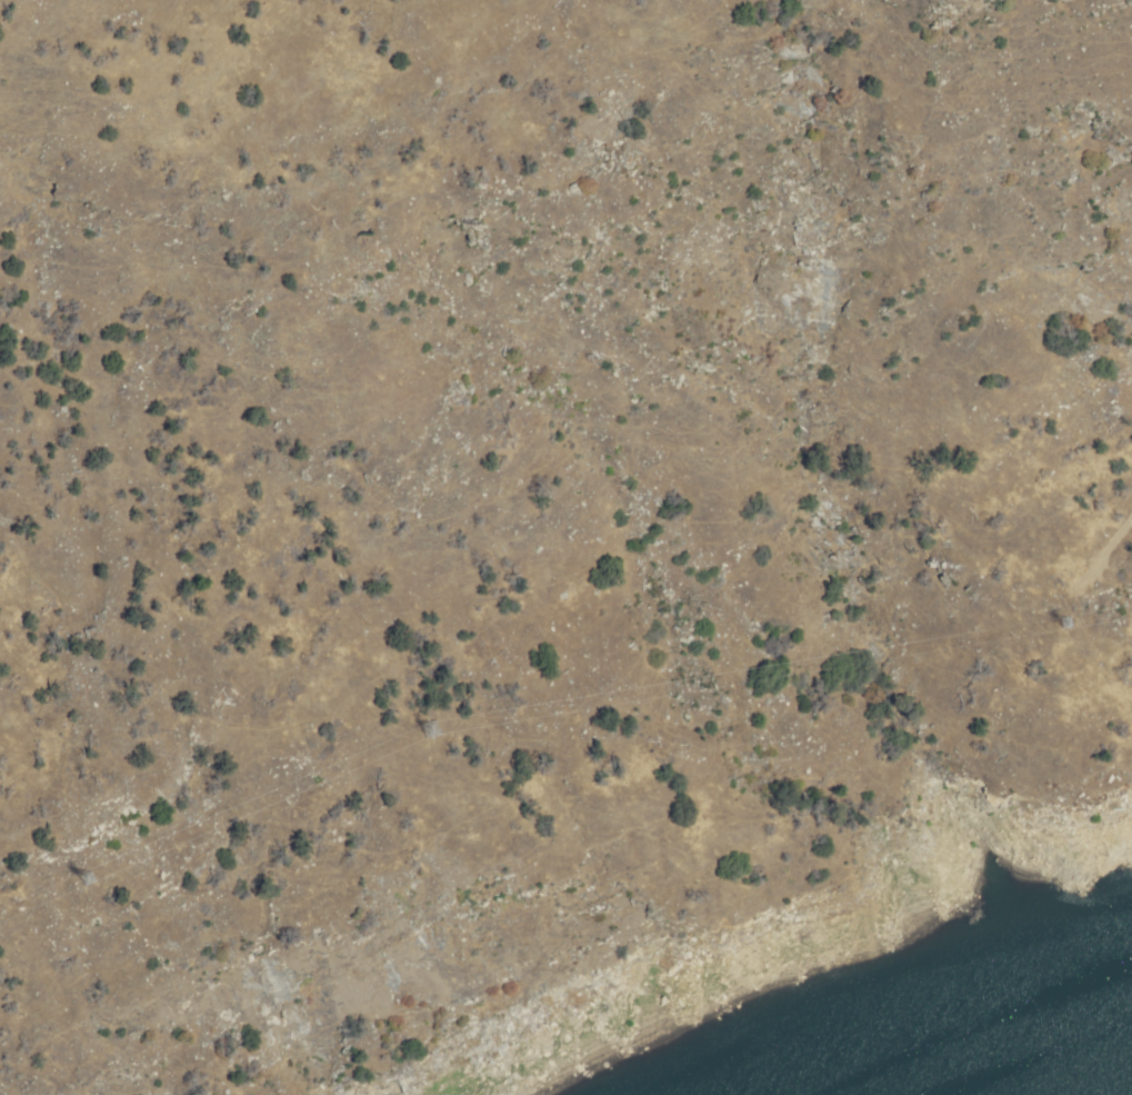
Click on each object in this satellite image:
power tower: (1056, 626)
power tower: (421, 733)
power tower: (72, 882)
river: (1095, 1048)
river: (1035, 1074)

